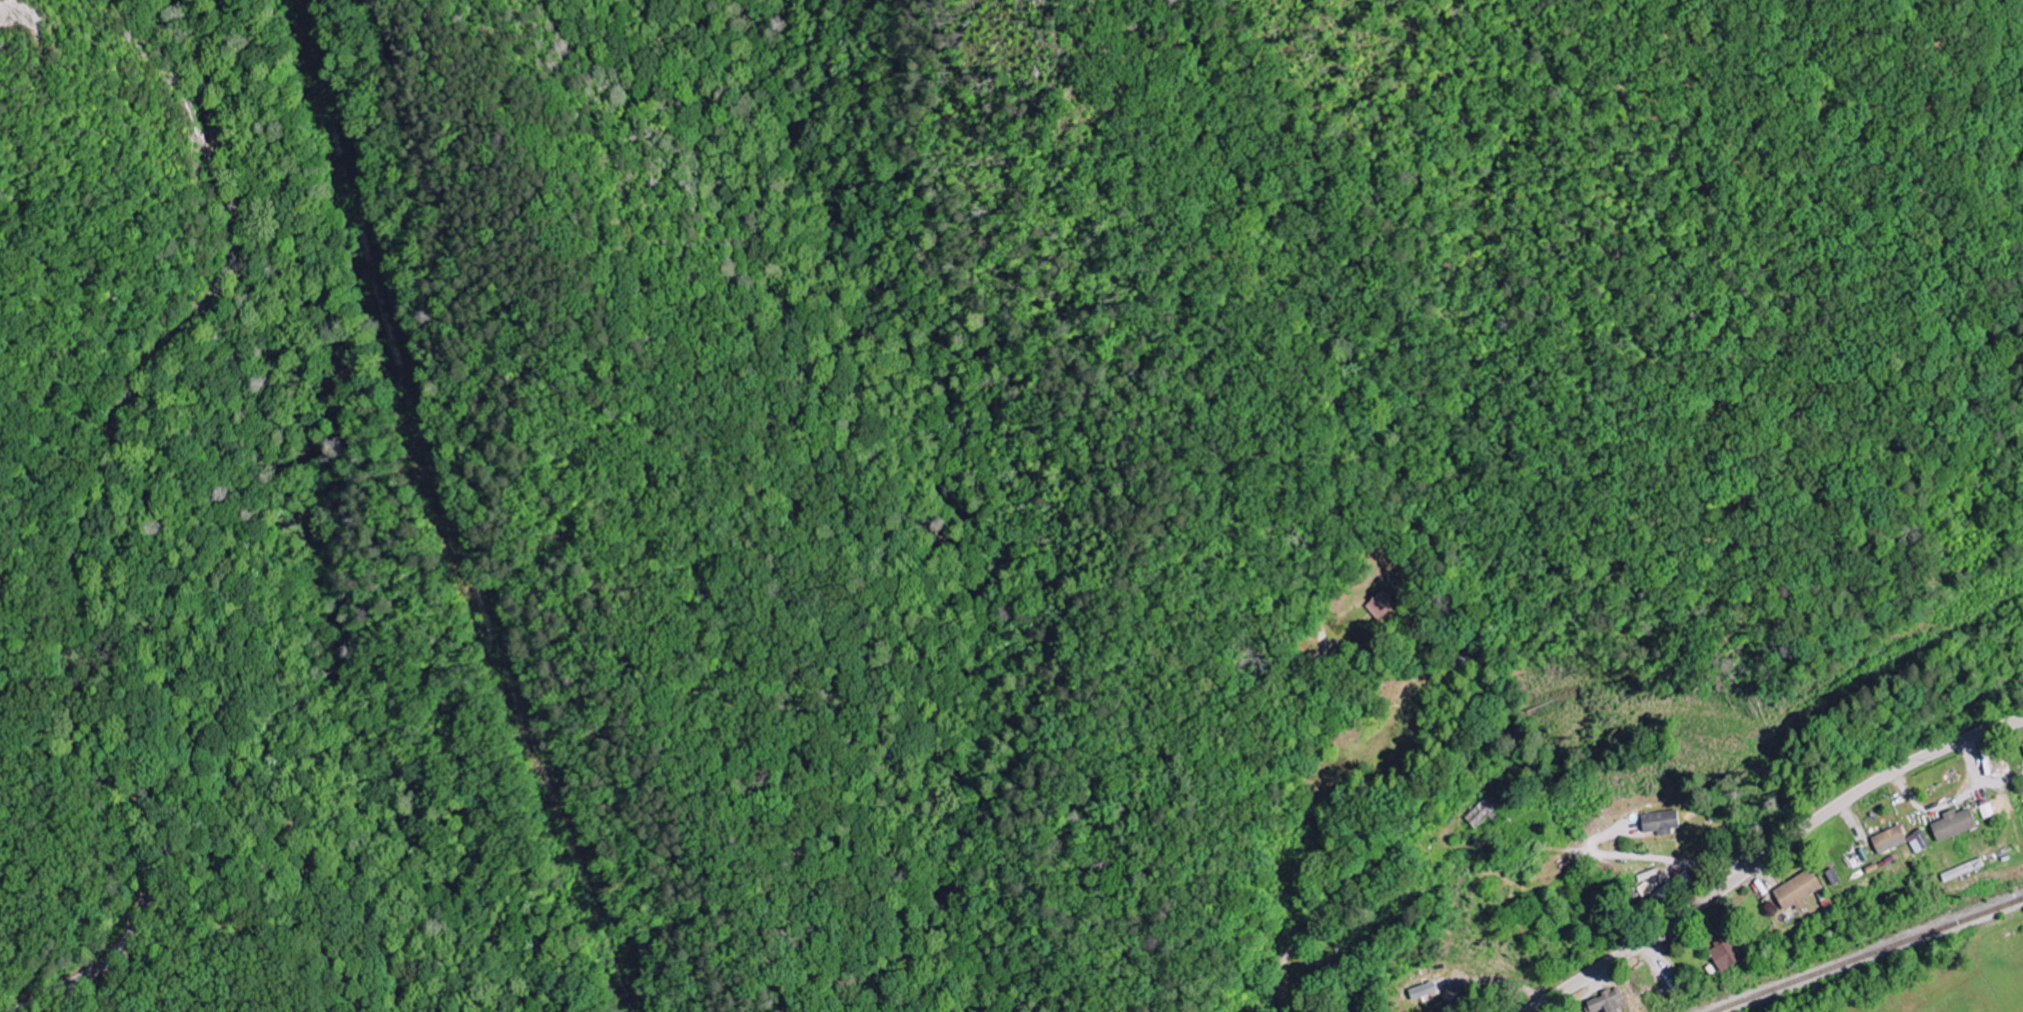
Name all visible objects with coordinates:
road: (87, 530)
building: (1383, 605)
road: (2002, 745)
building: (1988, 808)
building: (1482, 813)
building: (1662, 821)
building: (1956, 823)
building: (1891, 839)
building: (1921, 841)
road: (1770, 853)
building: (1836, 878)
building: (1800, 890)
railway: (1867, 951)
building: (1728, 953)
building: (1425, 990)
building: (1608, 1001)

